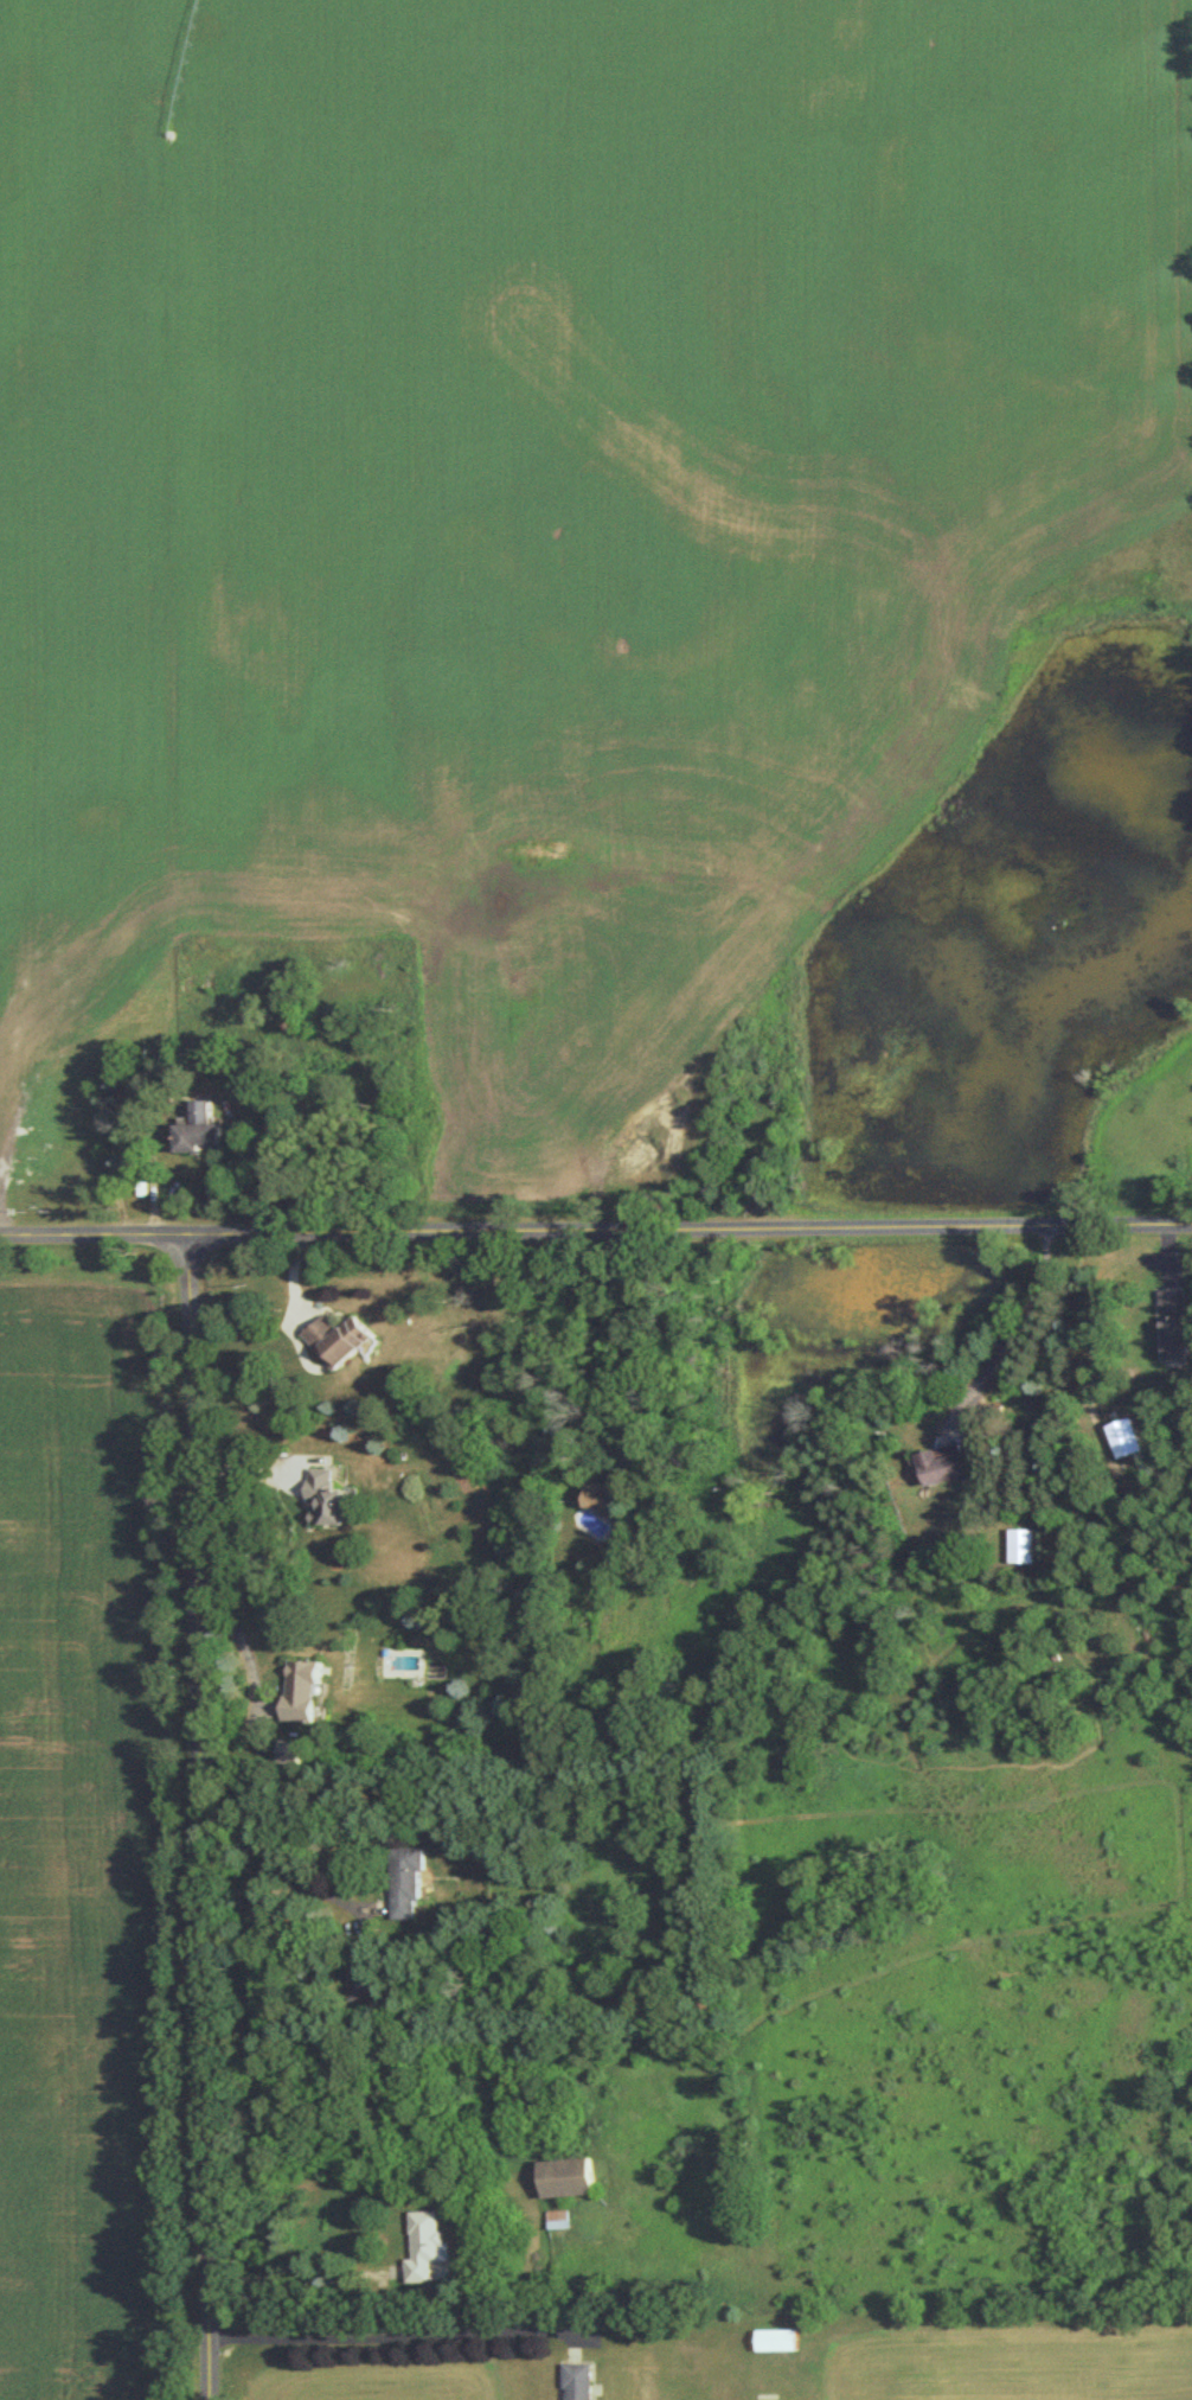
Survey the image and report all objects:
building: (201, 1128)
road: (596, 1232)
building: (1174, 1321)
road: (1088, 1323)
road: (1011, 1333)
building: (341, 1338)
road: (642, 1343)
building: (1127, 1436)
building: (937, 1466)
building: (609, 1492)
building: (323, 1496)
building: (1020, 1544)
road: (249, 1648)
building: (306, 1689)
road: (203, 1817)
crop: (83, 1864)
road: (297, 1878)
building: (410, 1878)
building: (427, 2245)
road: (300, 2277)
road: (392, 2334)
building: (577, 2381)

